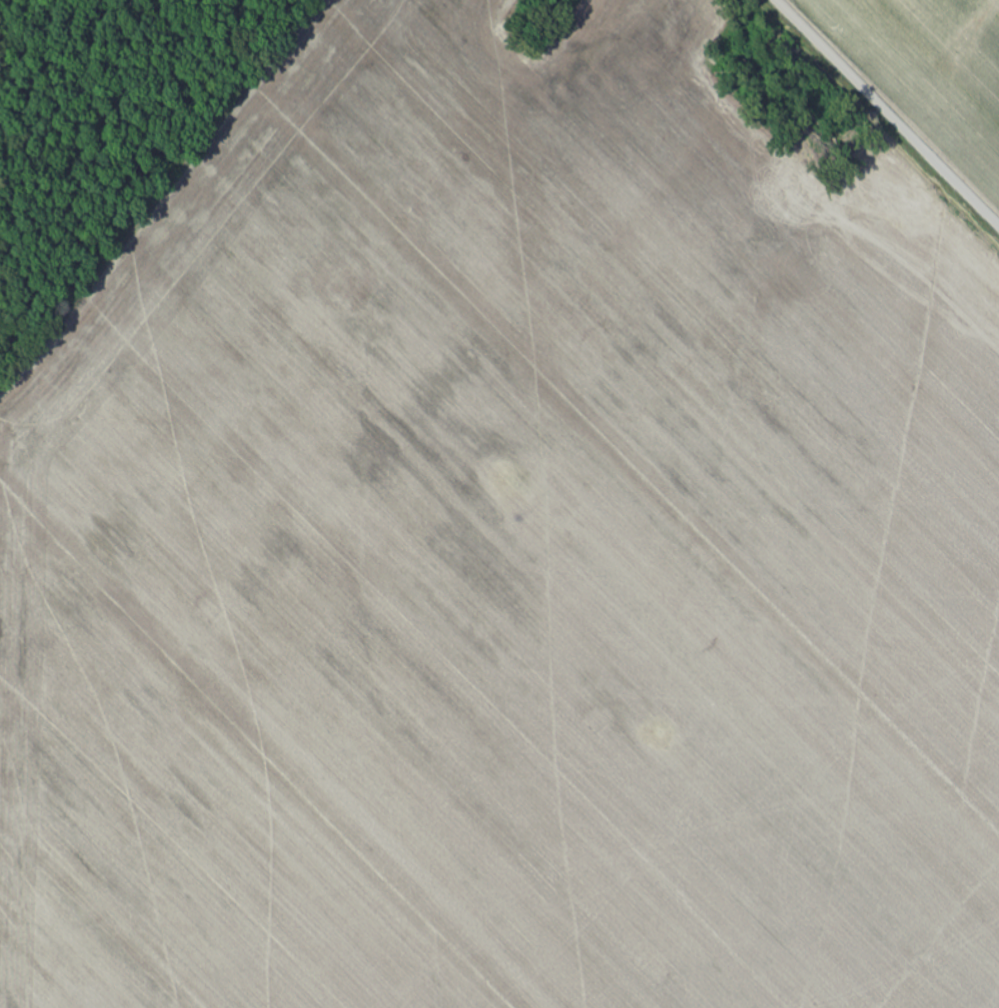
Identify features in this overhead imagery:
road: (888, 112)

